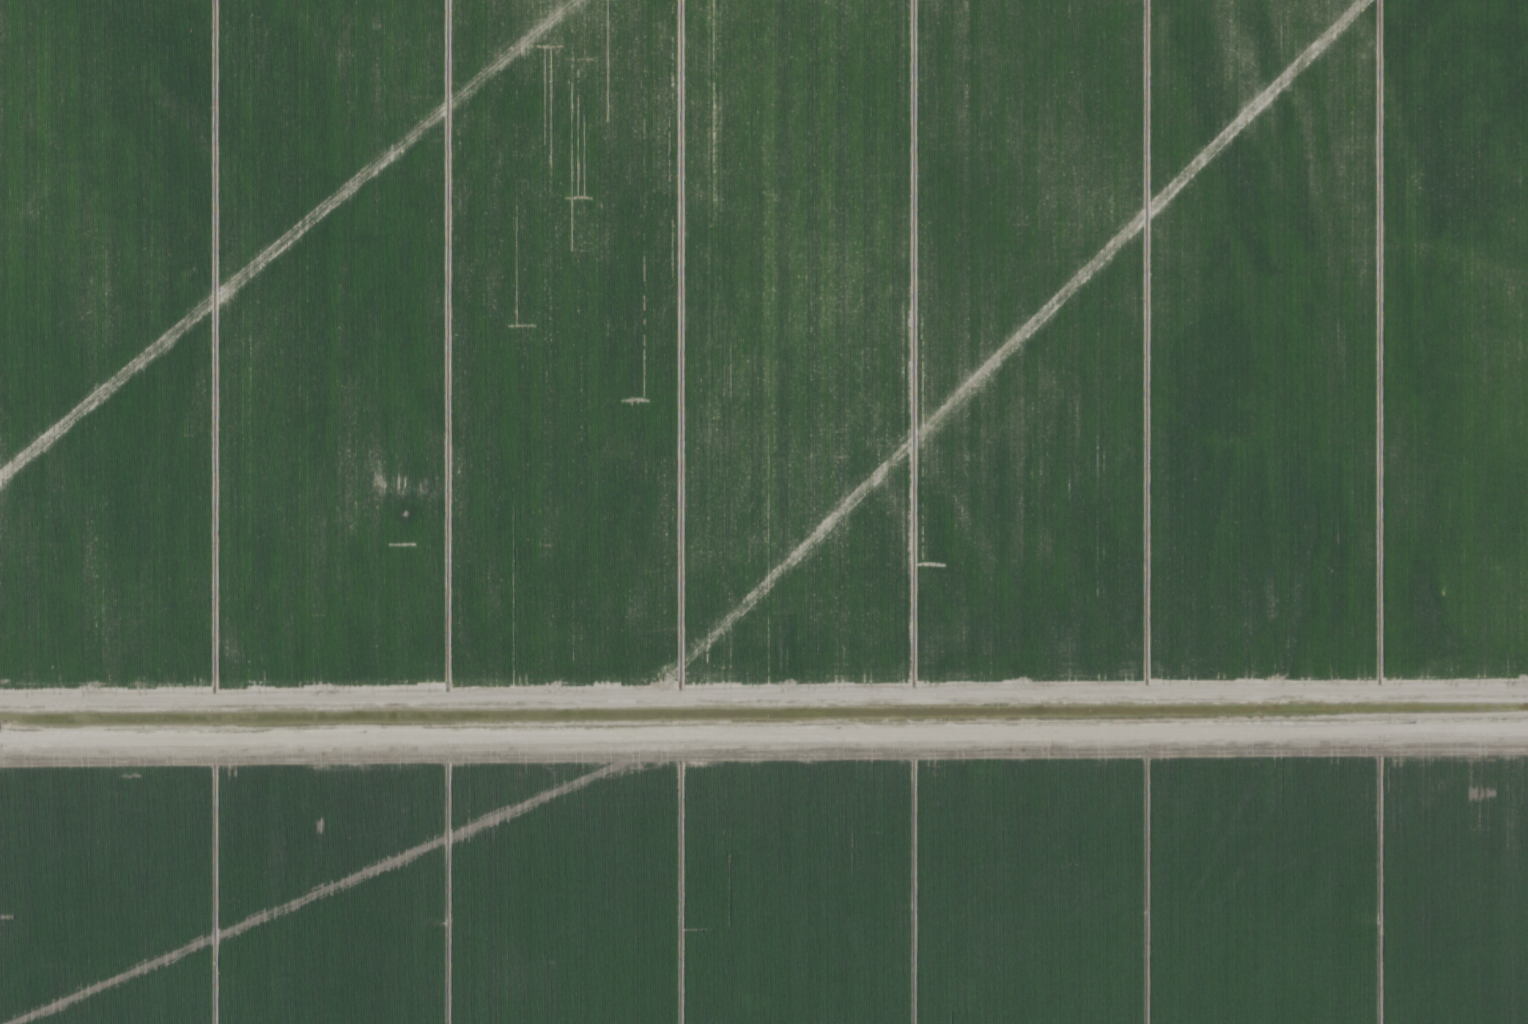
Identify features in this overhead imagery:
road: (763, 693)

